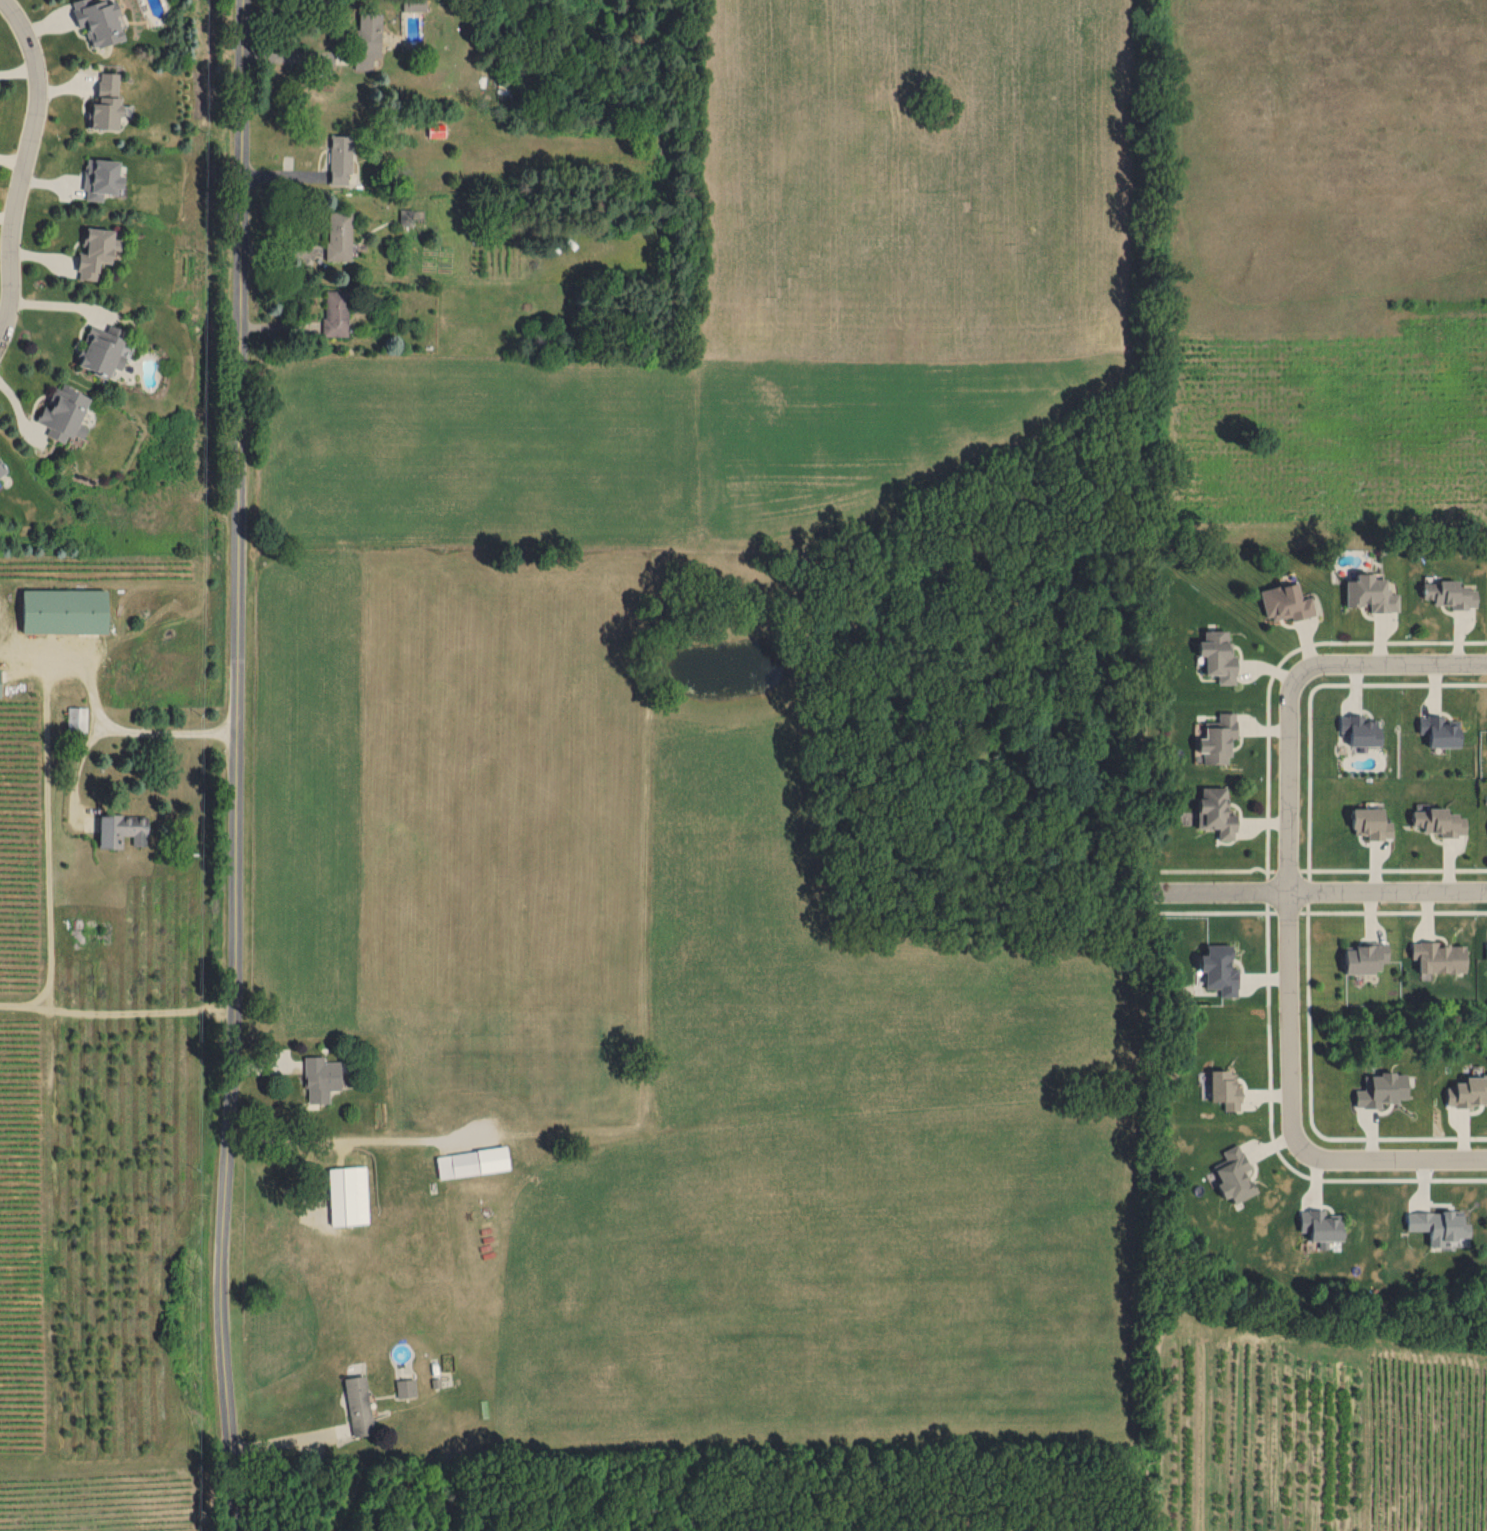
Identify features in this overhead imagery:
building: (413, 5)
building: (98, 20)
building: (367, 38)
building: (106, 101)
building: (340, 158)
road: (25, 170)
building: (101, 178)
building: (411, 216)
building: (338, 234)
building: (96, 251)
building: (335, 312)
building: (104, 349)
building: (65, 412)
building: (1, 469)
building: (1450, 596)
building: (1372, 597)
building: (1286, 604)
building: (64, 609)
building: (1217, 657)
road: (1278, 664)
road: (1396, 666)
road: (1309, 694)
building: (76, 718)
road: (126, 730)
building: (1363, 730)
building: (1443, 731)
building: (1216, 743)
crop: (726, 762)
road: (242, 765)
building: (1215, 817)
building: (1440, 820)
building: (1371, 822)
building: (121, 829)
road: (1393, 868)
road: (1219, 869)
road: (1288, 869)
road: (1268, 890)
road: (1309, 890)
road: (1319, 893)
road: (1292, 909)
road: (1394, 910)
road: (1219, 911)
road: (1289, 911)
building: (1486, 950)
building: (1366, 956)
building: (1439, 956)
building: (1220, 969)
building: (321, 1078)
building: (1223, 1089)
building: (1380, 1089)
road: (1309, 1103)
road: (1271, 1137)
road: (1391, 1158)
building: (471, 1161)
building: (1231, 1174)
building: (348, 1195)
building: (1319, 1224)
building: (1436, 1224)
building: (405, 1387)
building: (357, 1404)
road: (292, 1437)

